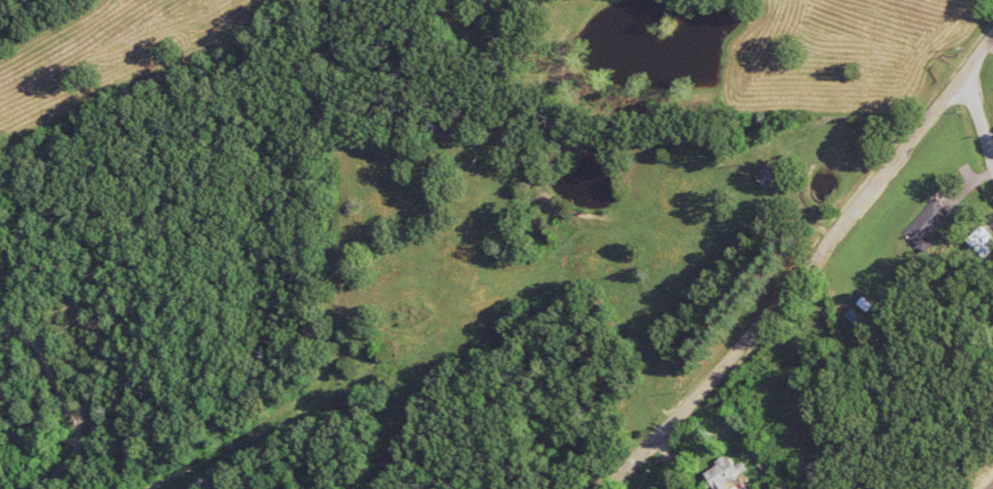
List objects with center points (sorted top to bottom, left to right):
road: (977, 131)
road: (807, 267)
building: (729, 473)

